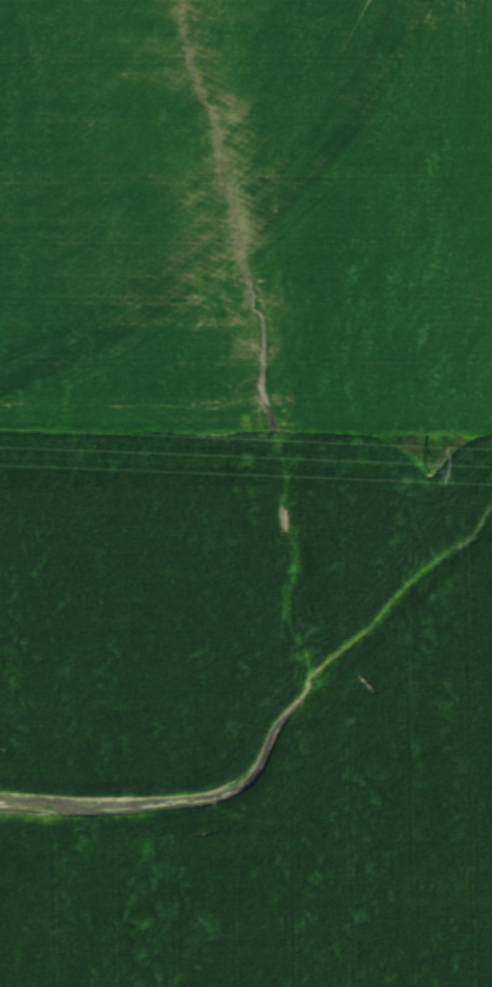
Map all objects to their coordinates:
power tower: (430, 461)

